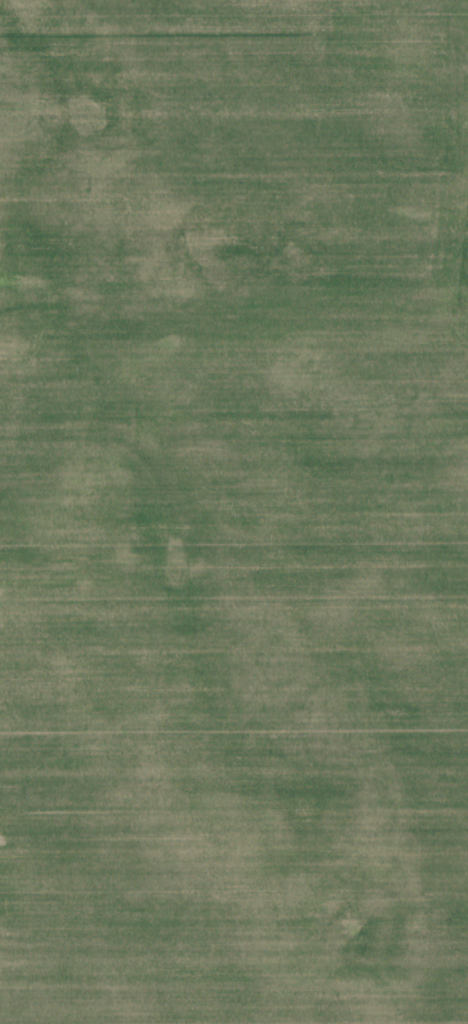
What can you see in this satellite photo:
crop: (232, 144)
crop: (234, 656)

